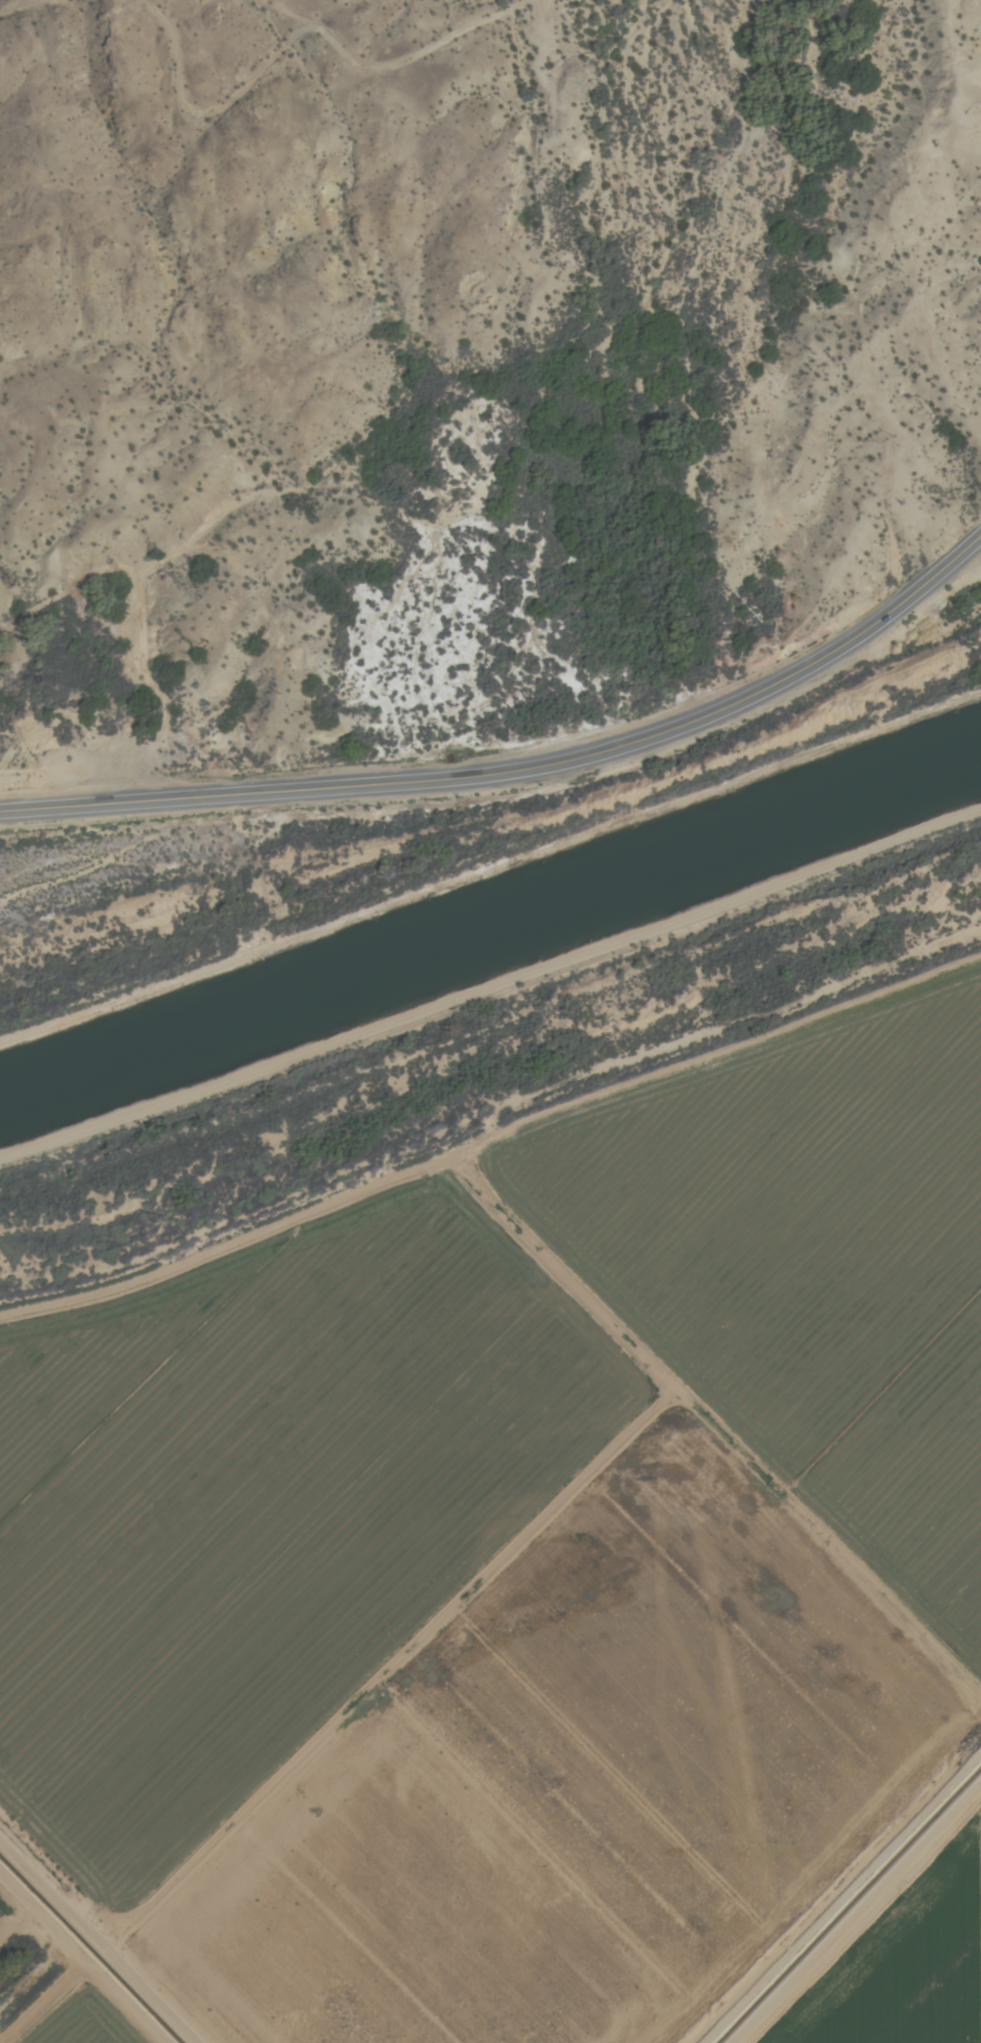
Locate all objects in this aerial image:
road: (521, 769)

